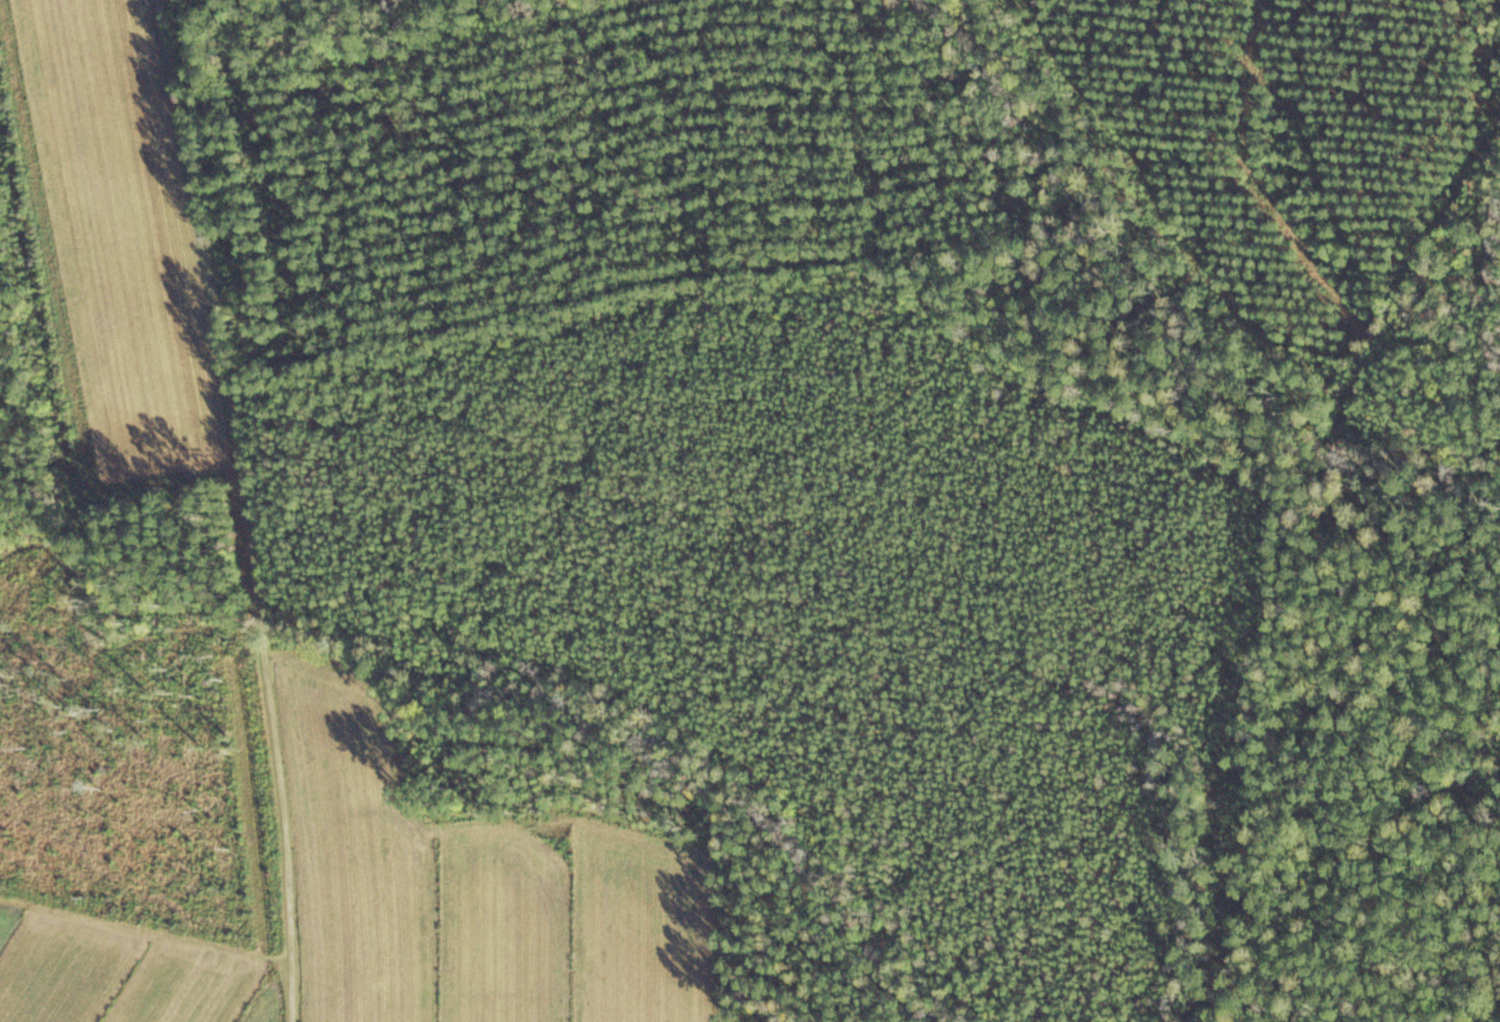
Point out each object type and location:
road: (206, 509)

